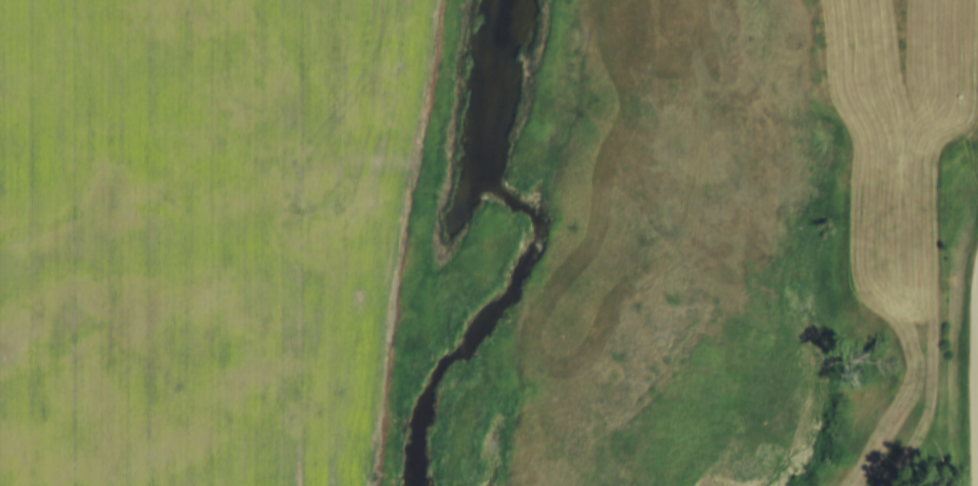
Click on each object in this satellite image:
road: (975, 376)
road: (888, 397)

